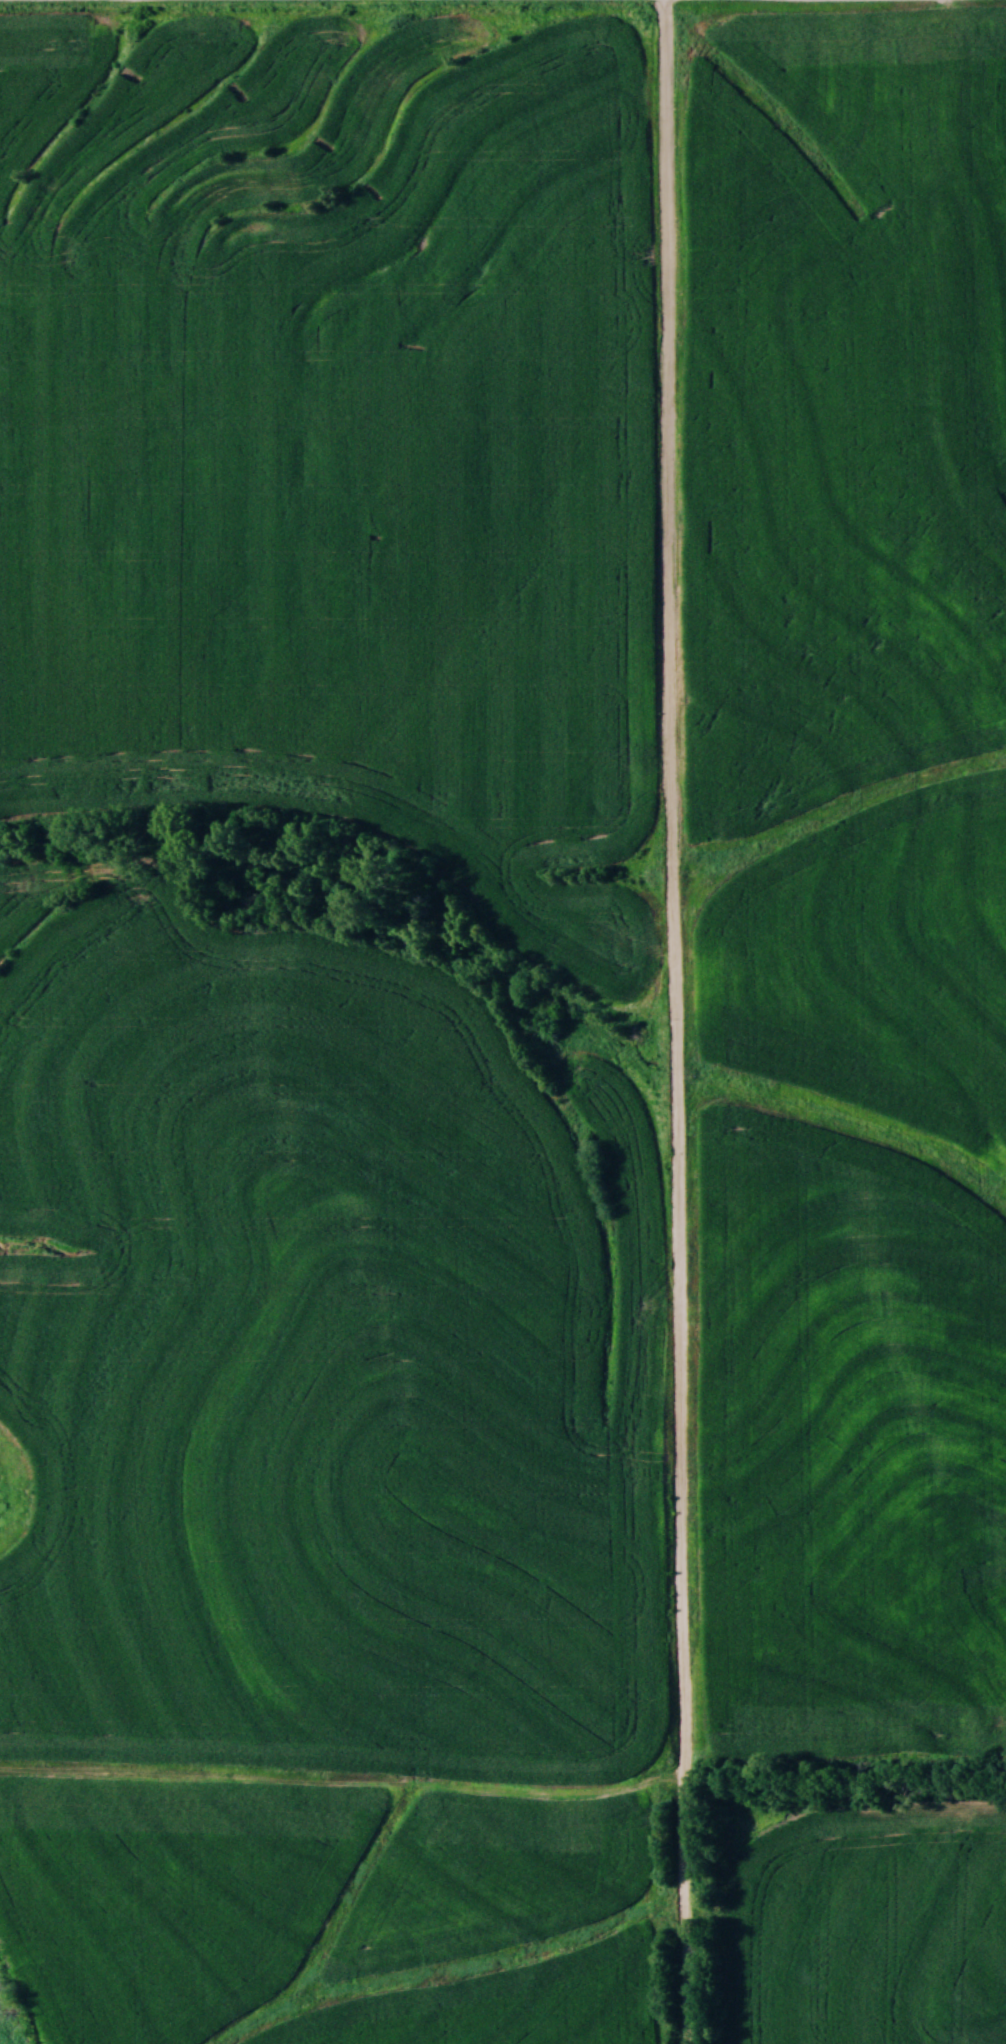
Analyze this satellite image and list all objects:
road: (678, 1021)

